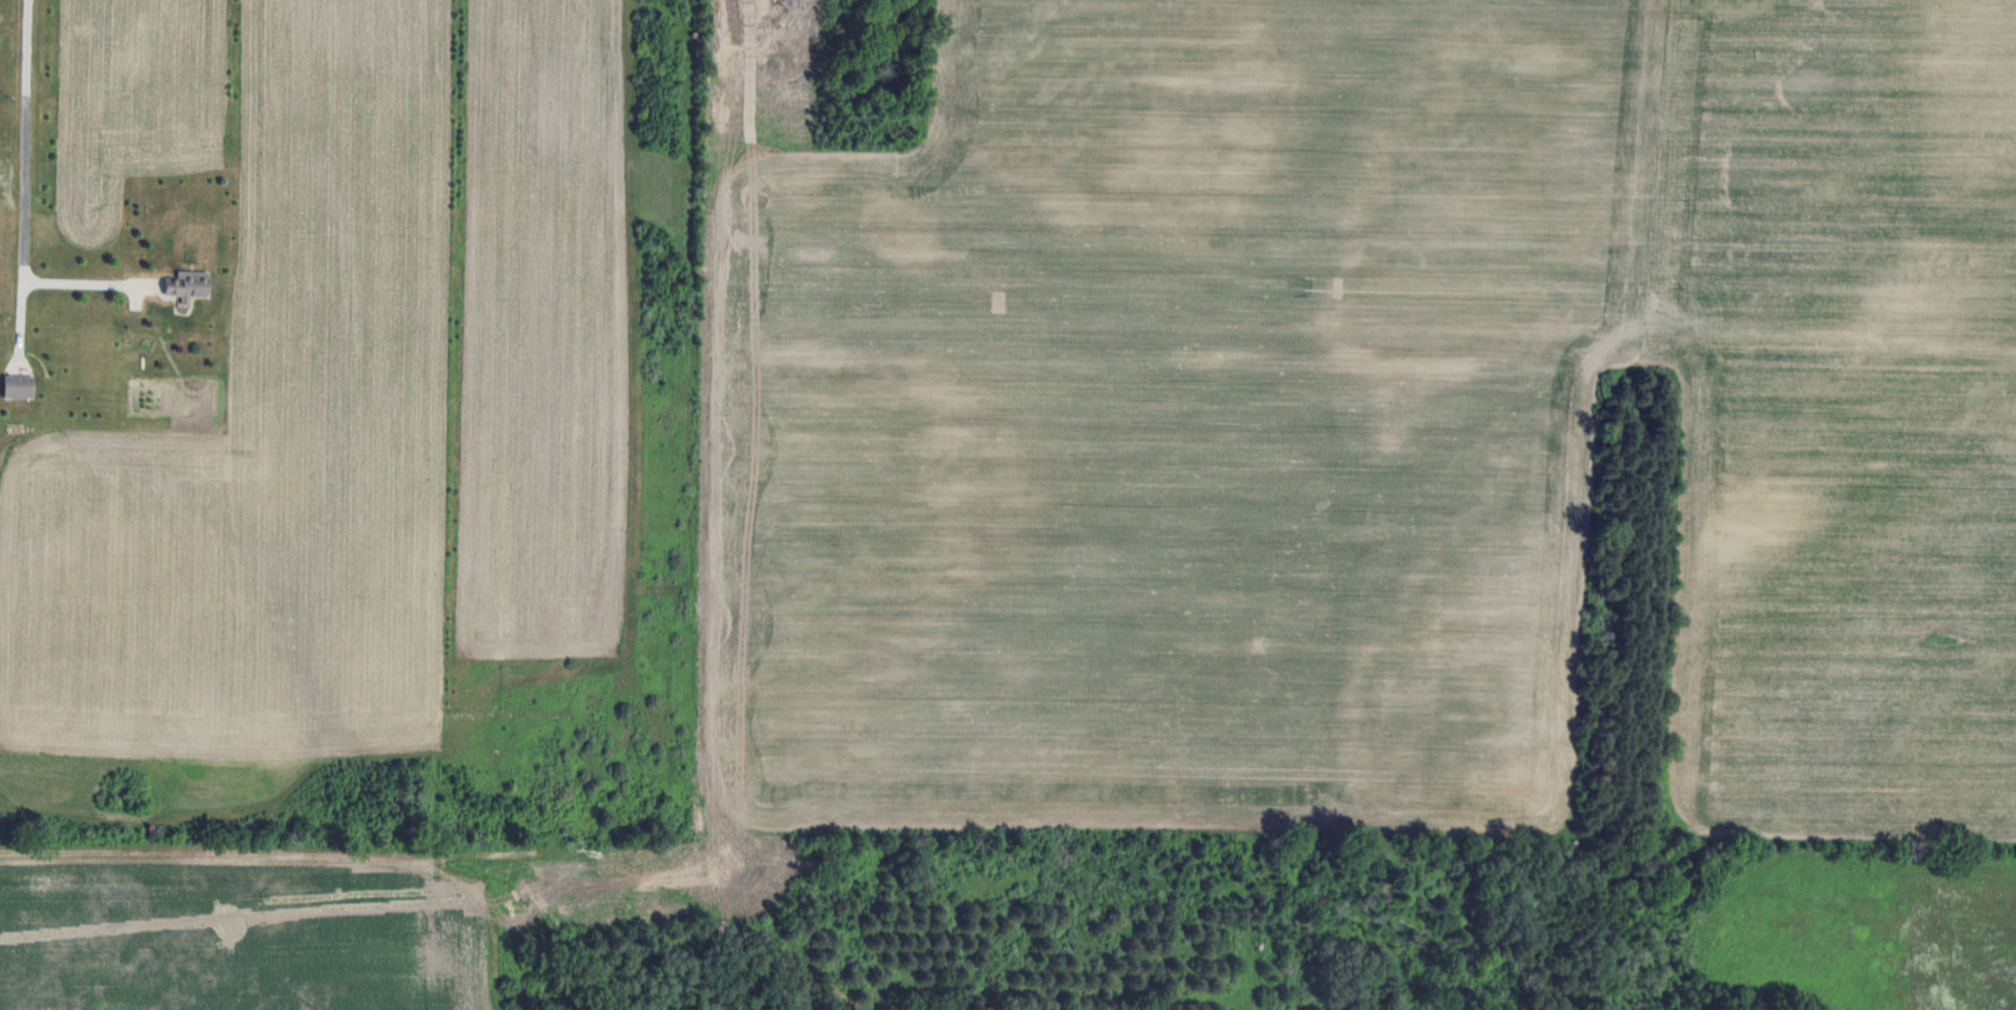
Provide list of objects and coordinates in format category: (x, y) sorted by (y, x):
road: (23, 139)
building: (187, 284)
building: (19, 385)

